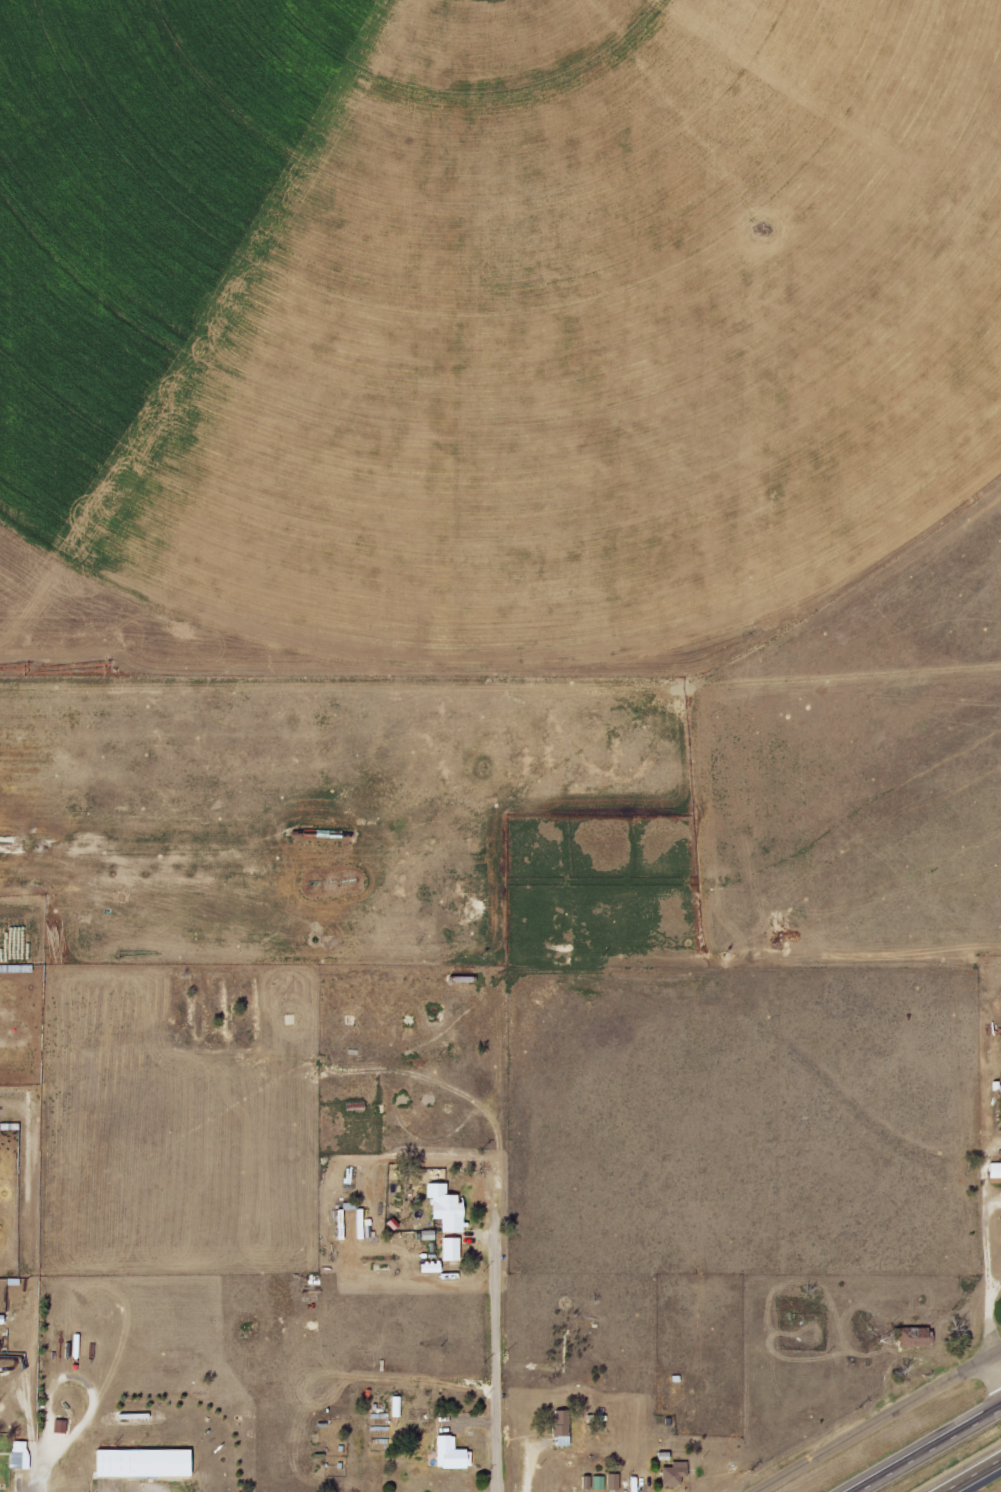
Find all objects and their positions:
building: (994, 1170)
building: (444, 1207)
building: (450, 1249)
road: (986, 1280)
road: (498, 1326)
building: (910, 1337)
road: (992, 1370)
building: (559, 1423)
road: (866, 1425)
building: (59, 1426)
road: (928, 1450)
building: (450, 1453)
building: (19, 1454)
building: (141, 1462)
building: (672, 1473)
road: (972, 1475)
building: (612, 1481)
building: (598, 1482)

